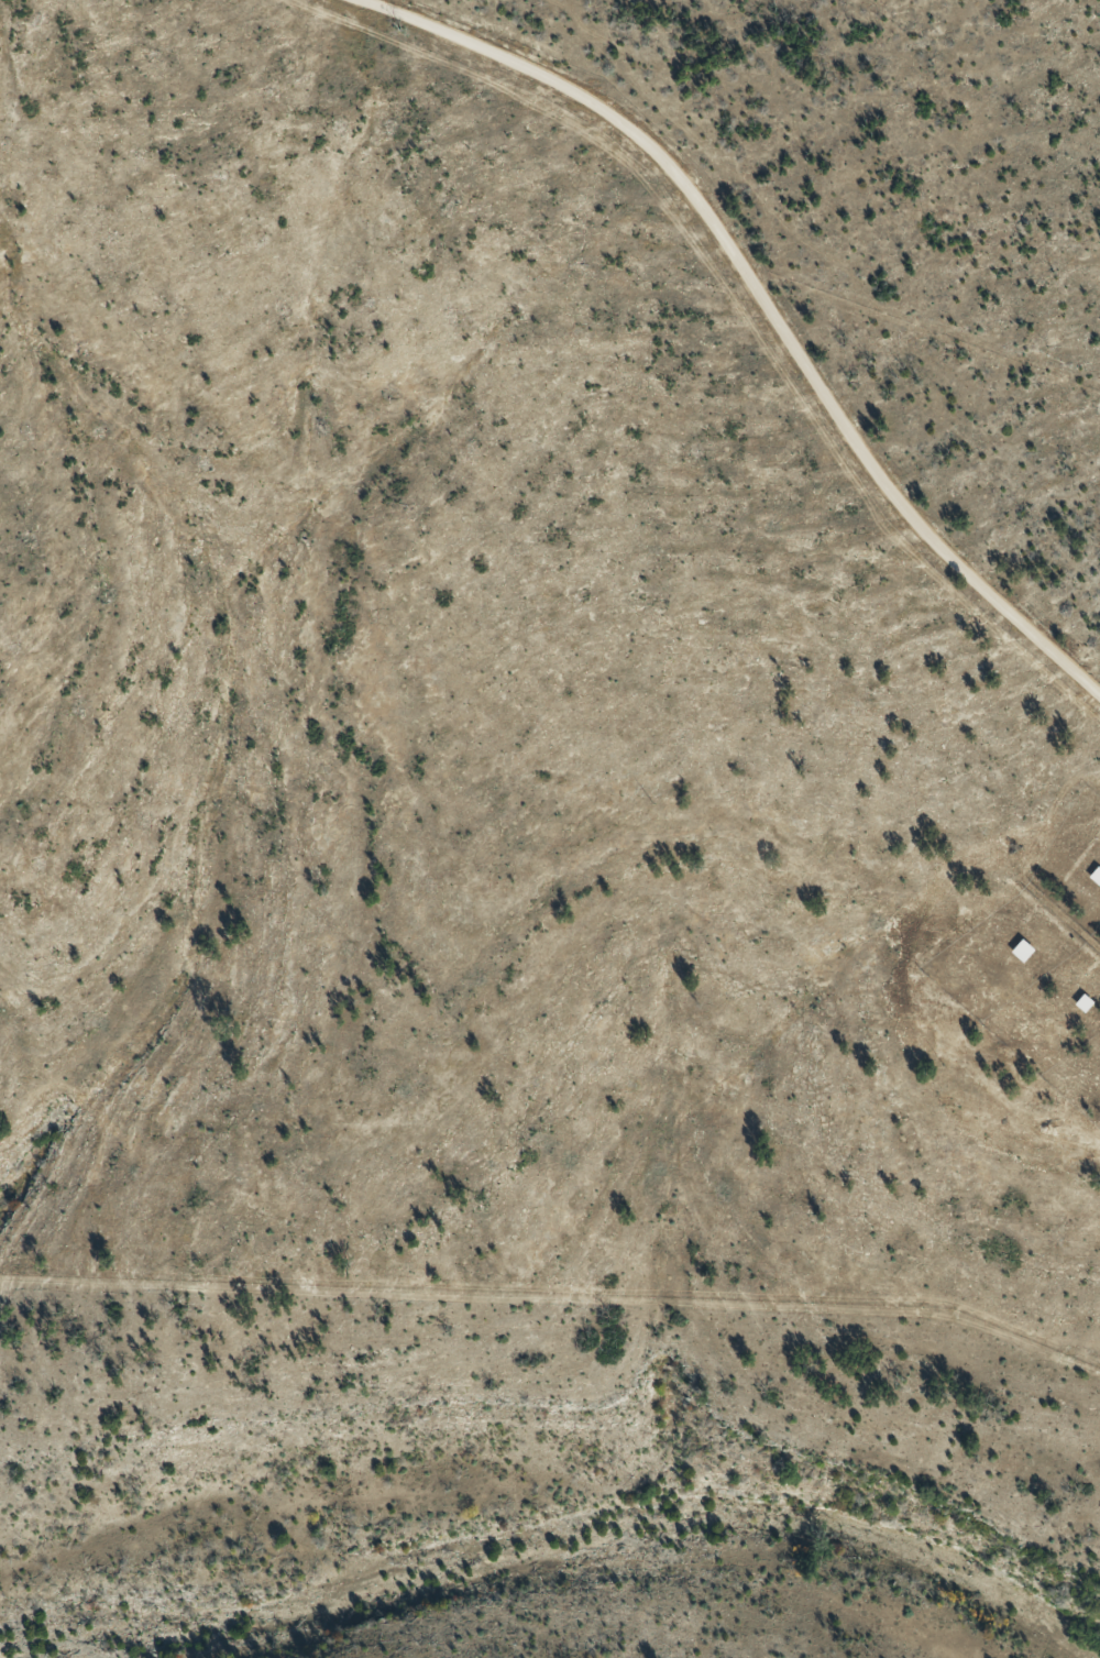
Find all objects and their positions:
road: (762, 298)

